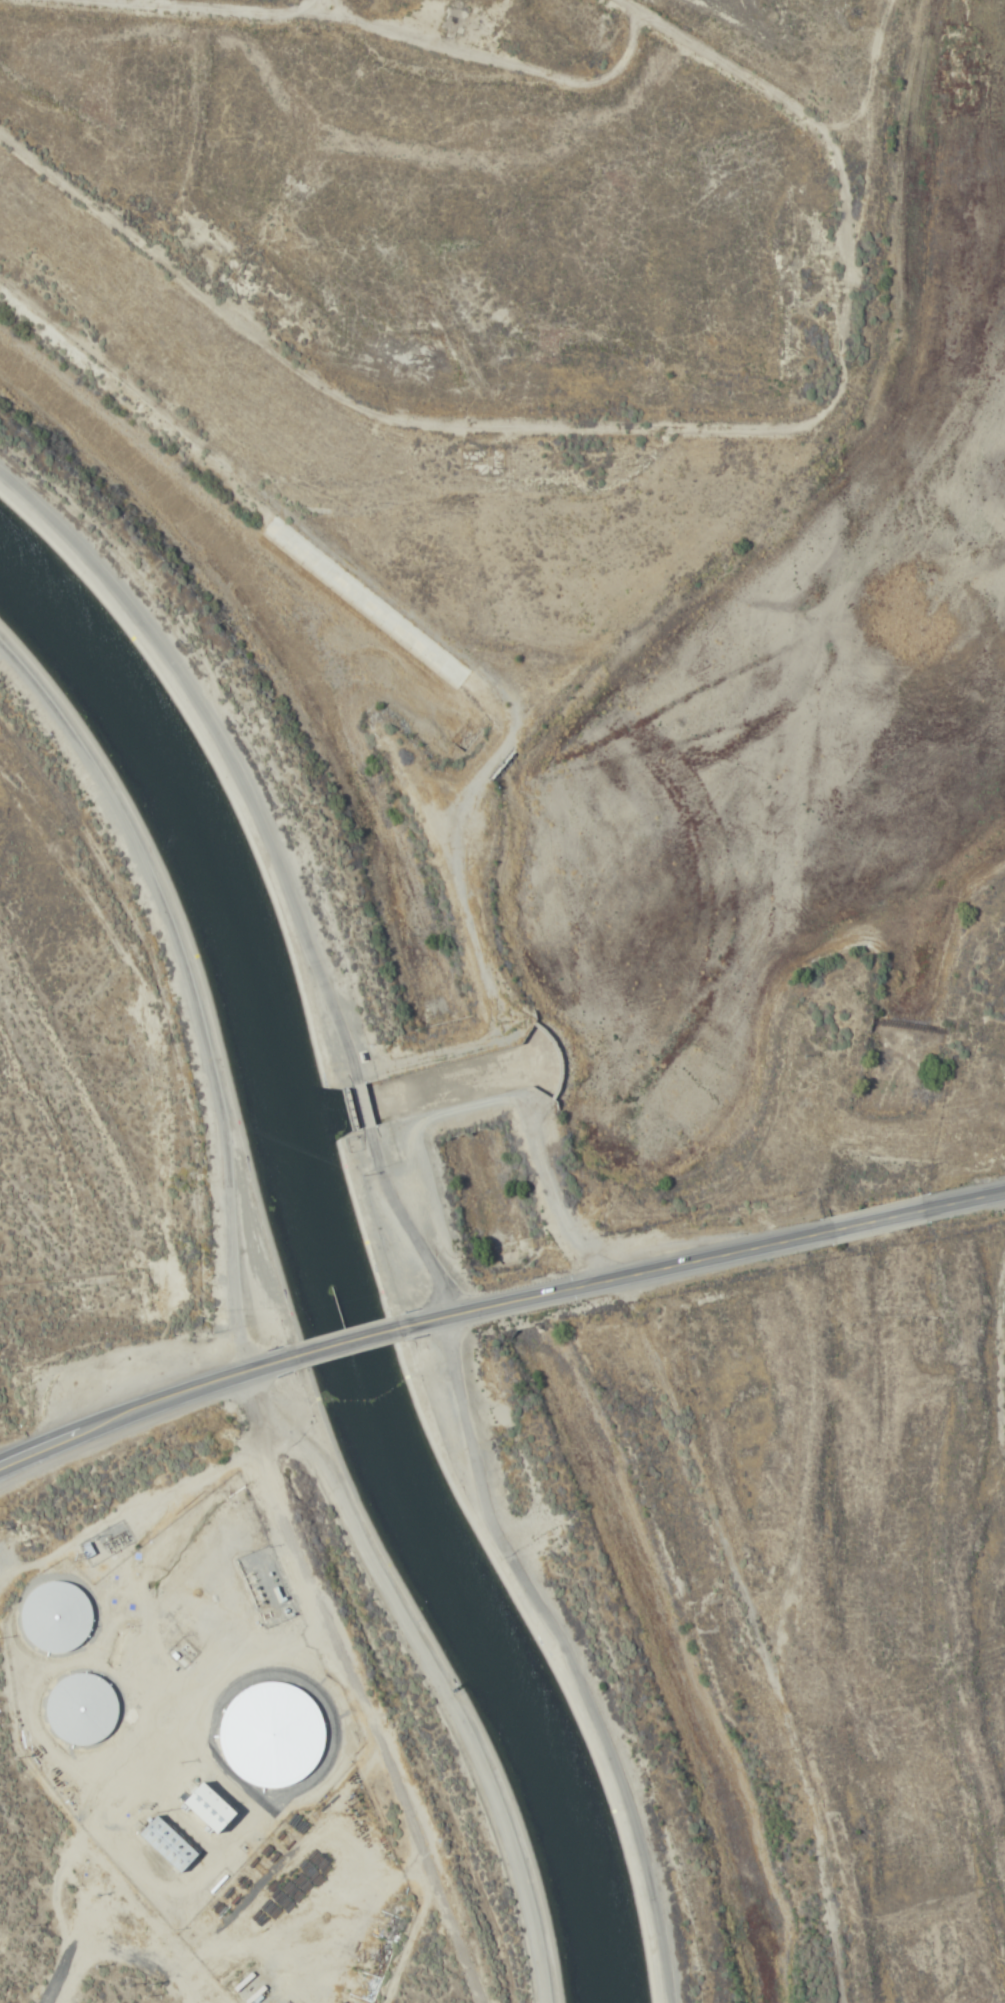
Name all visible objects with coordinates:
road: (292, 0)
road: (300, 0)
road: (622, 424)
road: (225, 748)
river: (920, 844)
road: (167, 1004)
road: (362, 1104)
crop: (77, 1184)
road: (967, 1201)
road: (881, 1221)
road: (616, 1283)
road: (342, 1343)
road: (141, 1405)
road: (515, 1565)
road: (994, 1598)
building: (54, 1617)
road: (726, 1639)
road: (431, 1670)
road: (358, 1688)
building: (79, 1709)
building: (272, 1735)
building: (212, 1807)
building: (169, 1844)

